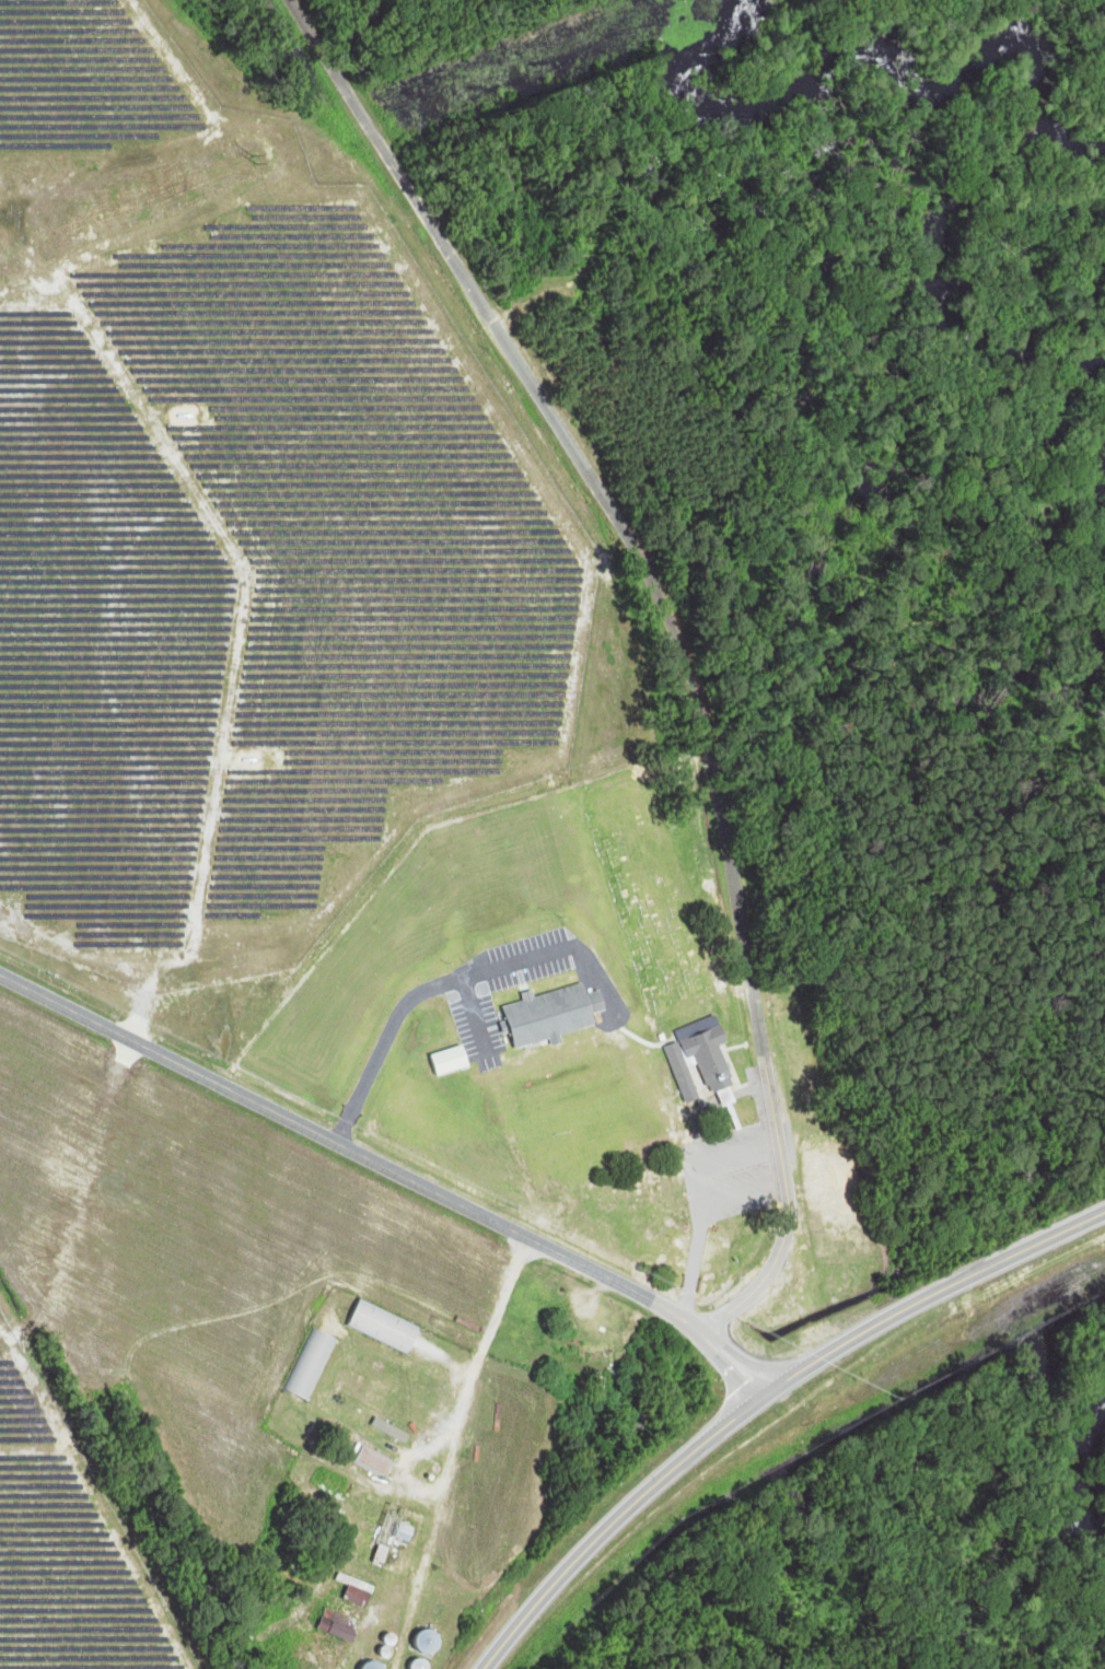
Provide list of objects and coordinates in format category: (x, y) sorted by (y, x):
river: (892, 60)
power tower: (255, 157)
river: (917, 257)
solar farm: (240, 526)
road: (676, 635)
building: (559, 1015)
building: (713, 1058)
road: (393, 1170)
building: (830, 1179)
building: (387, 1328)
building: (590, 1349)
building: (313, 1364)
road: (763, 1398)
building: (395, 1432)
building: (376, 1462)
river: (1090, 1469)
building: (399, 1526)
solar farm: (67, 1550)
building: (397, 1561)
building: (361, 1596)
building: (348, 1626)
building: (431, 1642)
building: (421, 1664)

